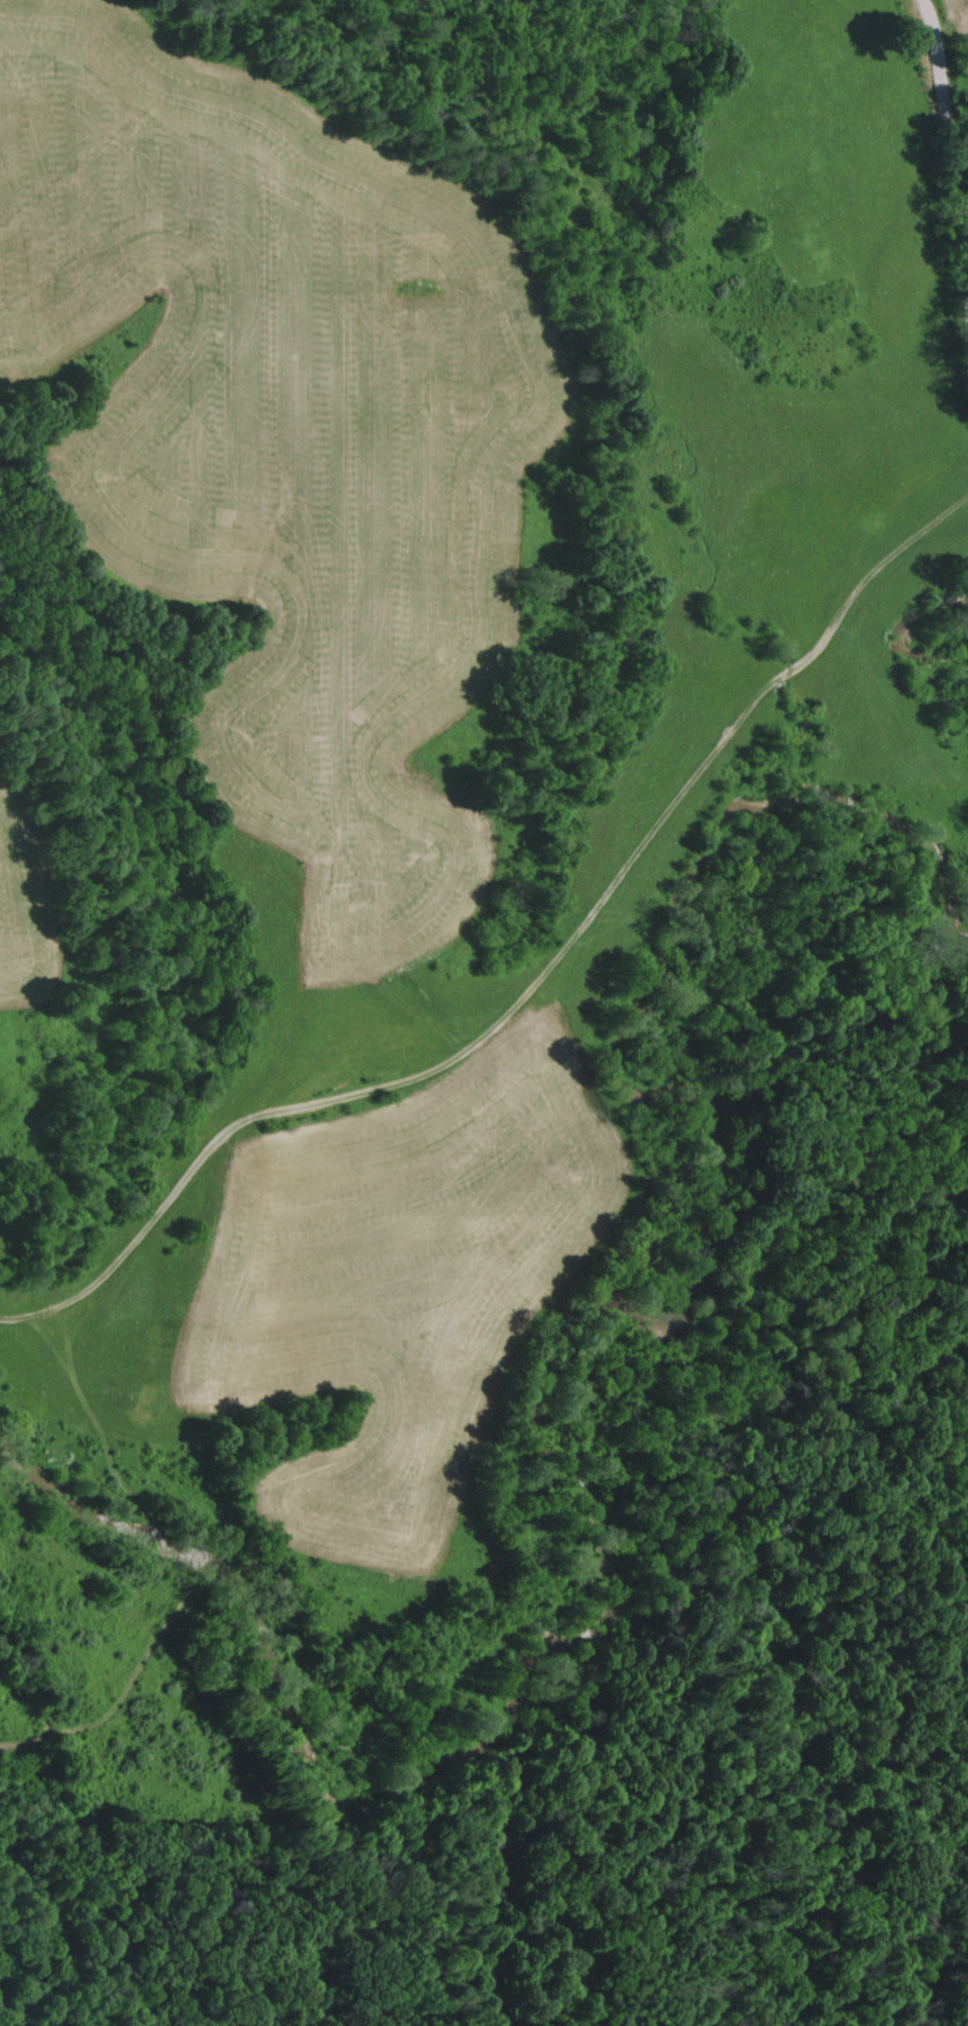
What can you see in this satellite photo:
road: (948, 127)

